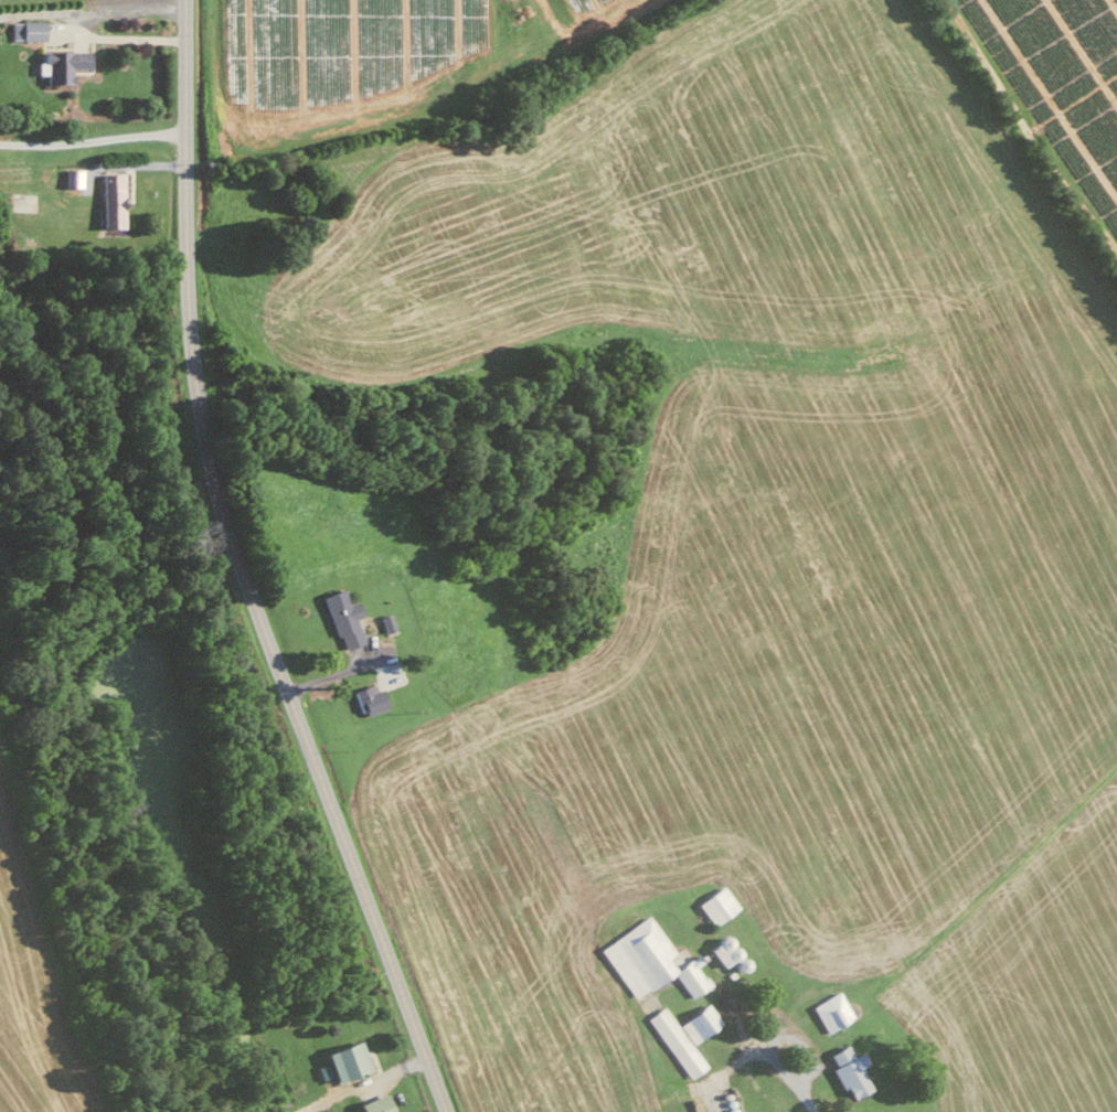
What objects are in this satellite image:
road: (92, 11)
building: (25, 30)
building: (58, 64)
road: (1025, 132)
road: (93, 139)
building: (108, 200)
road: (241, 570)
building: (341, 618)
building: (366, 698)
building: (715, 904)
building: (721, 949)
building: (649, 959)
building: (829, 1011)
building: (696, 1022)
building: (673, 1040)
building: (342, 1060)
building: (847, 1070)
road: (802, 1094)
building: (373, 1103)

